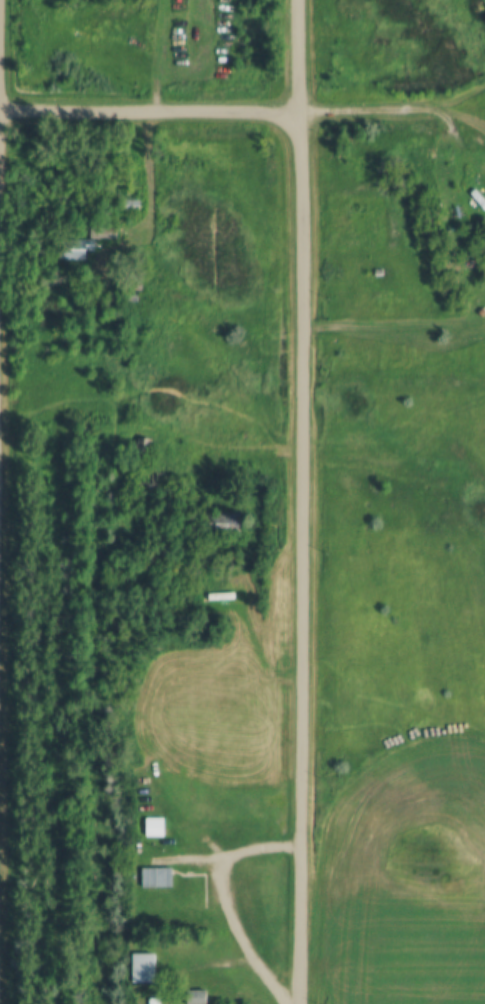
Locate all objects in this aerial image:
road: (448, 102)
road: (393, 109)
road: (149, 112)
road: (160, 264)
road: (301, 501)
building: (227, 524)
building: (230, 599)
building: (156, 828)
building: (158, 879)
road: (225, 900)
building: (146, 970)
building: (197, 997)

